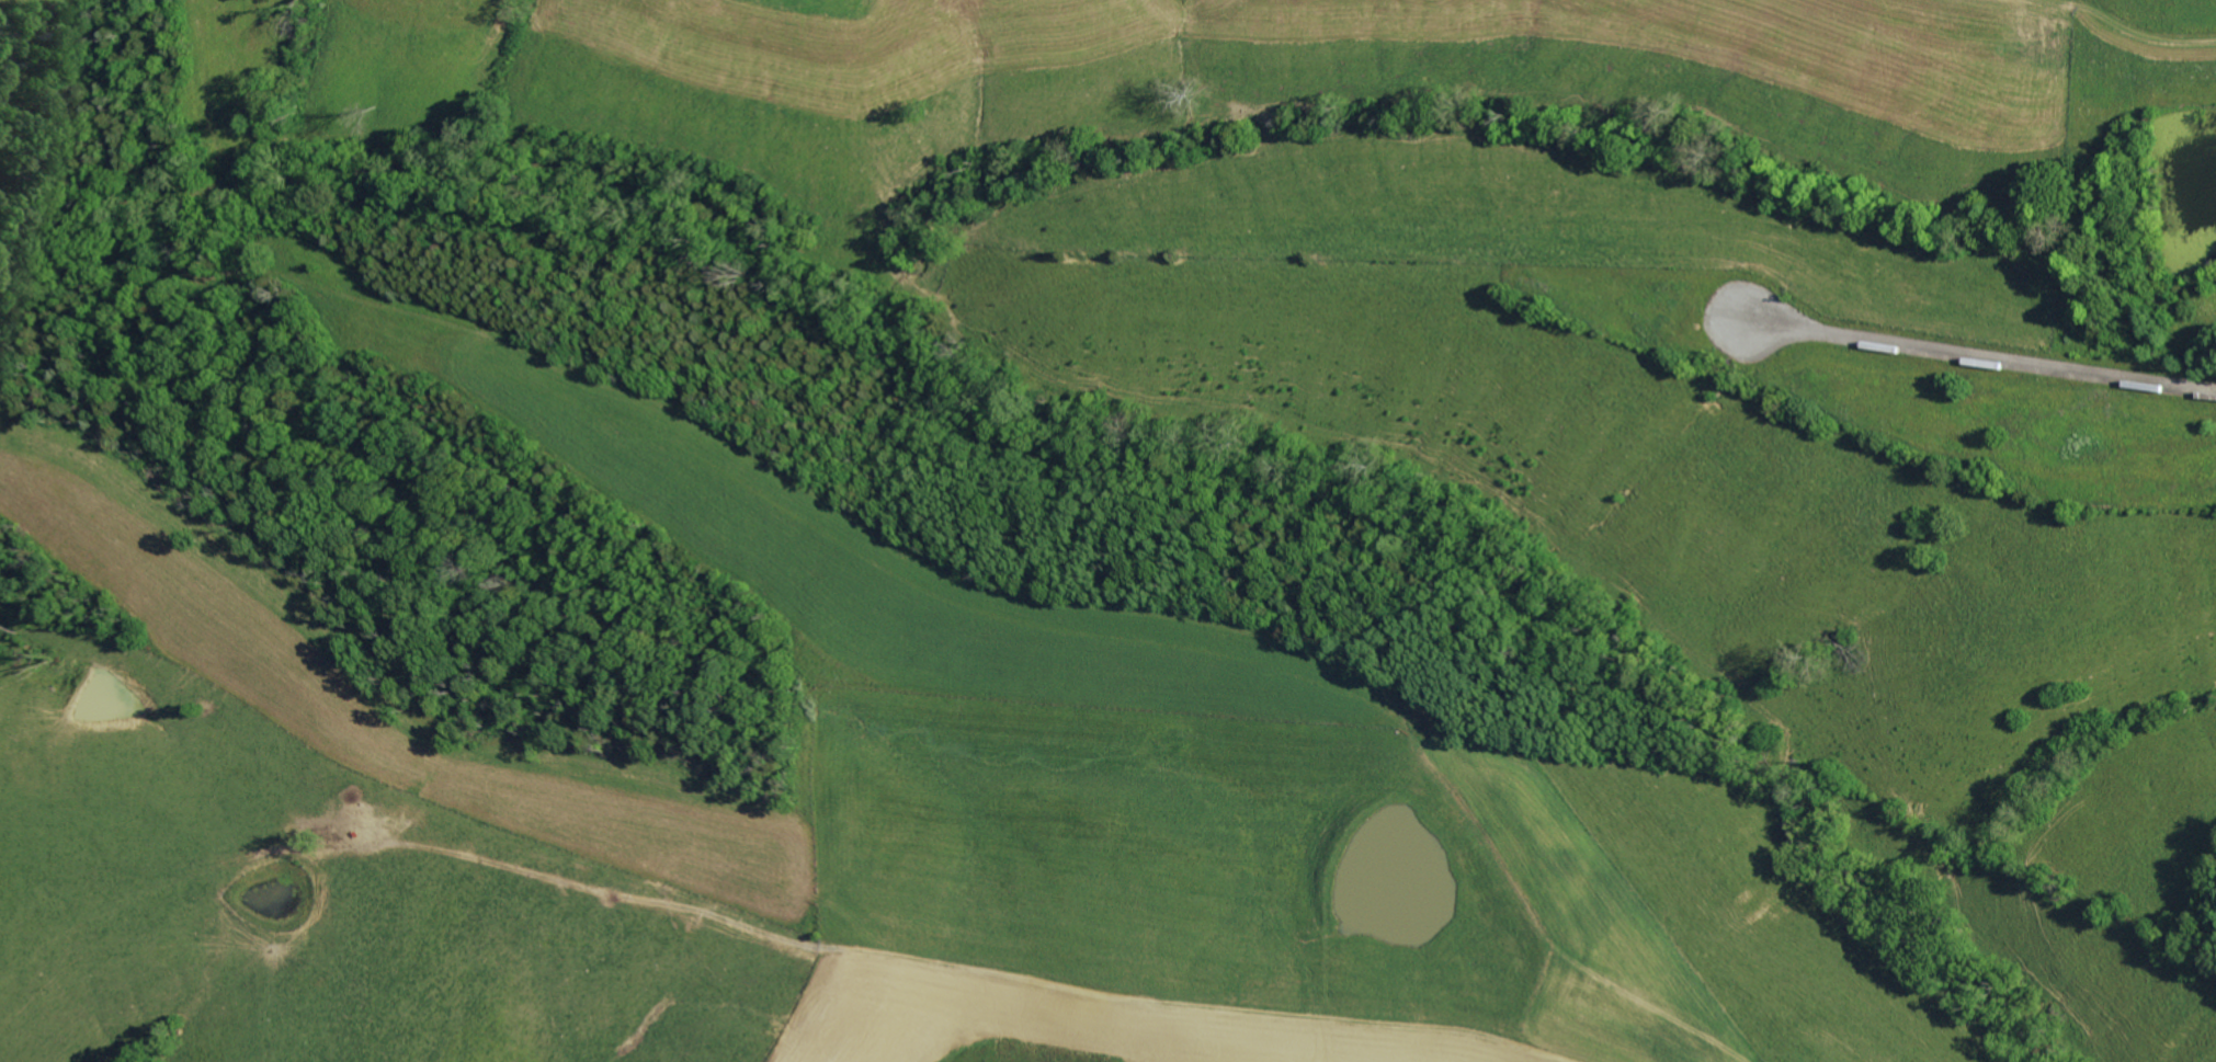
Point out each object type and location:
road: (1991, 352)

